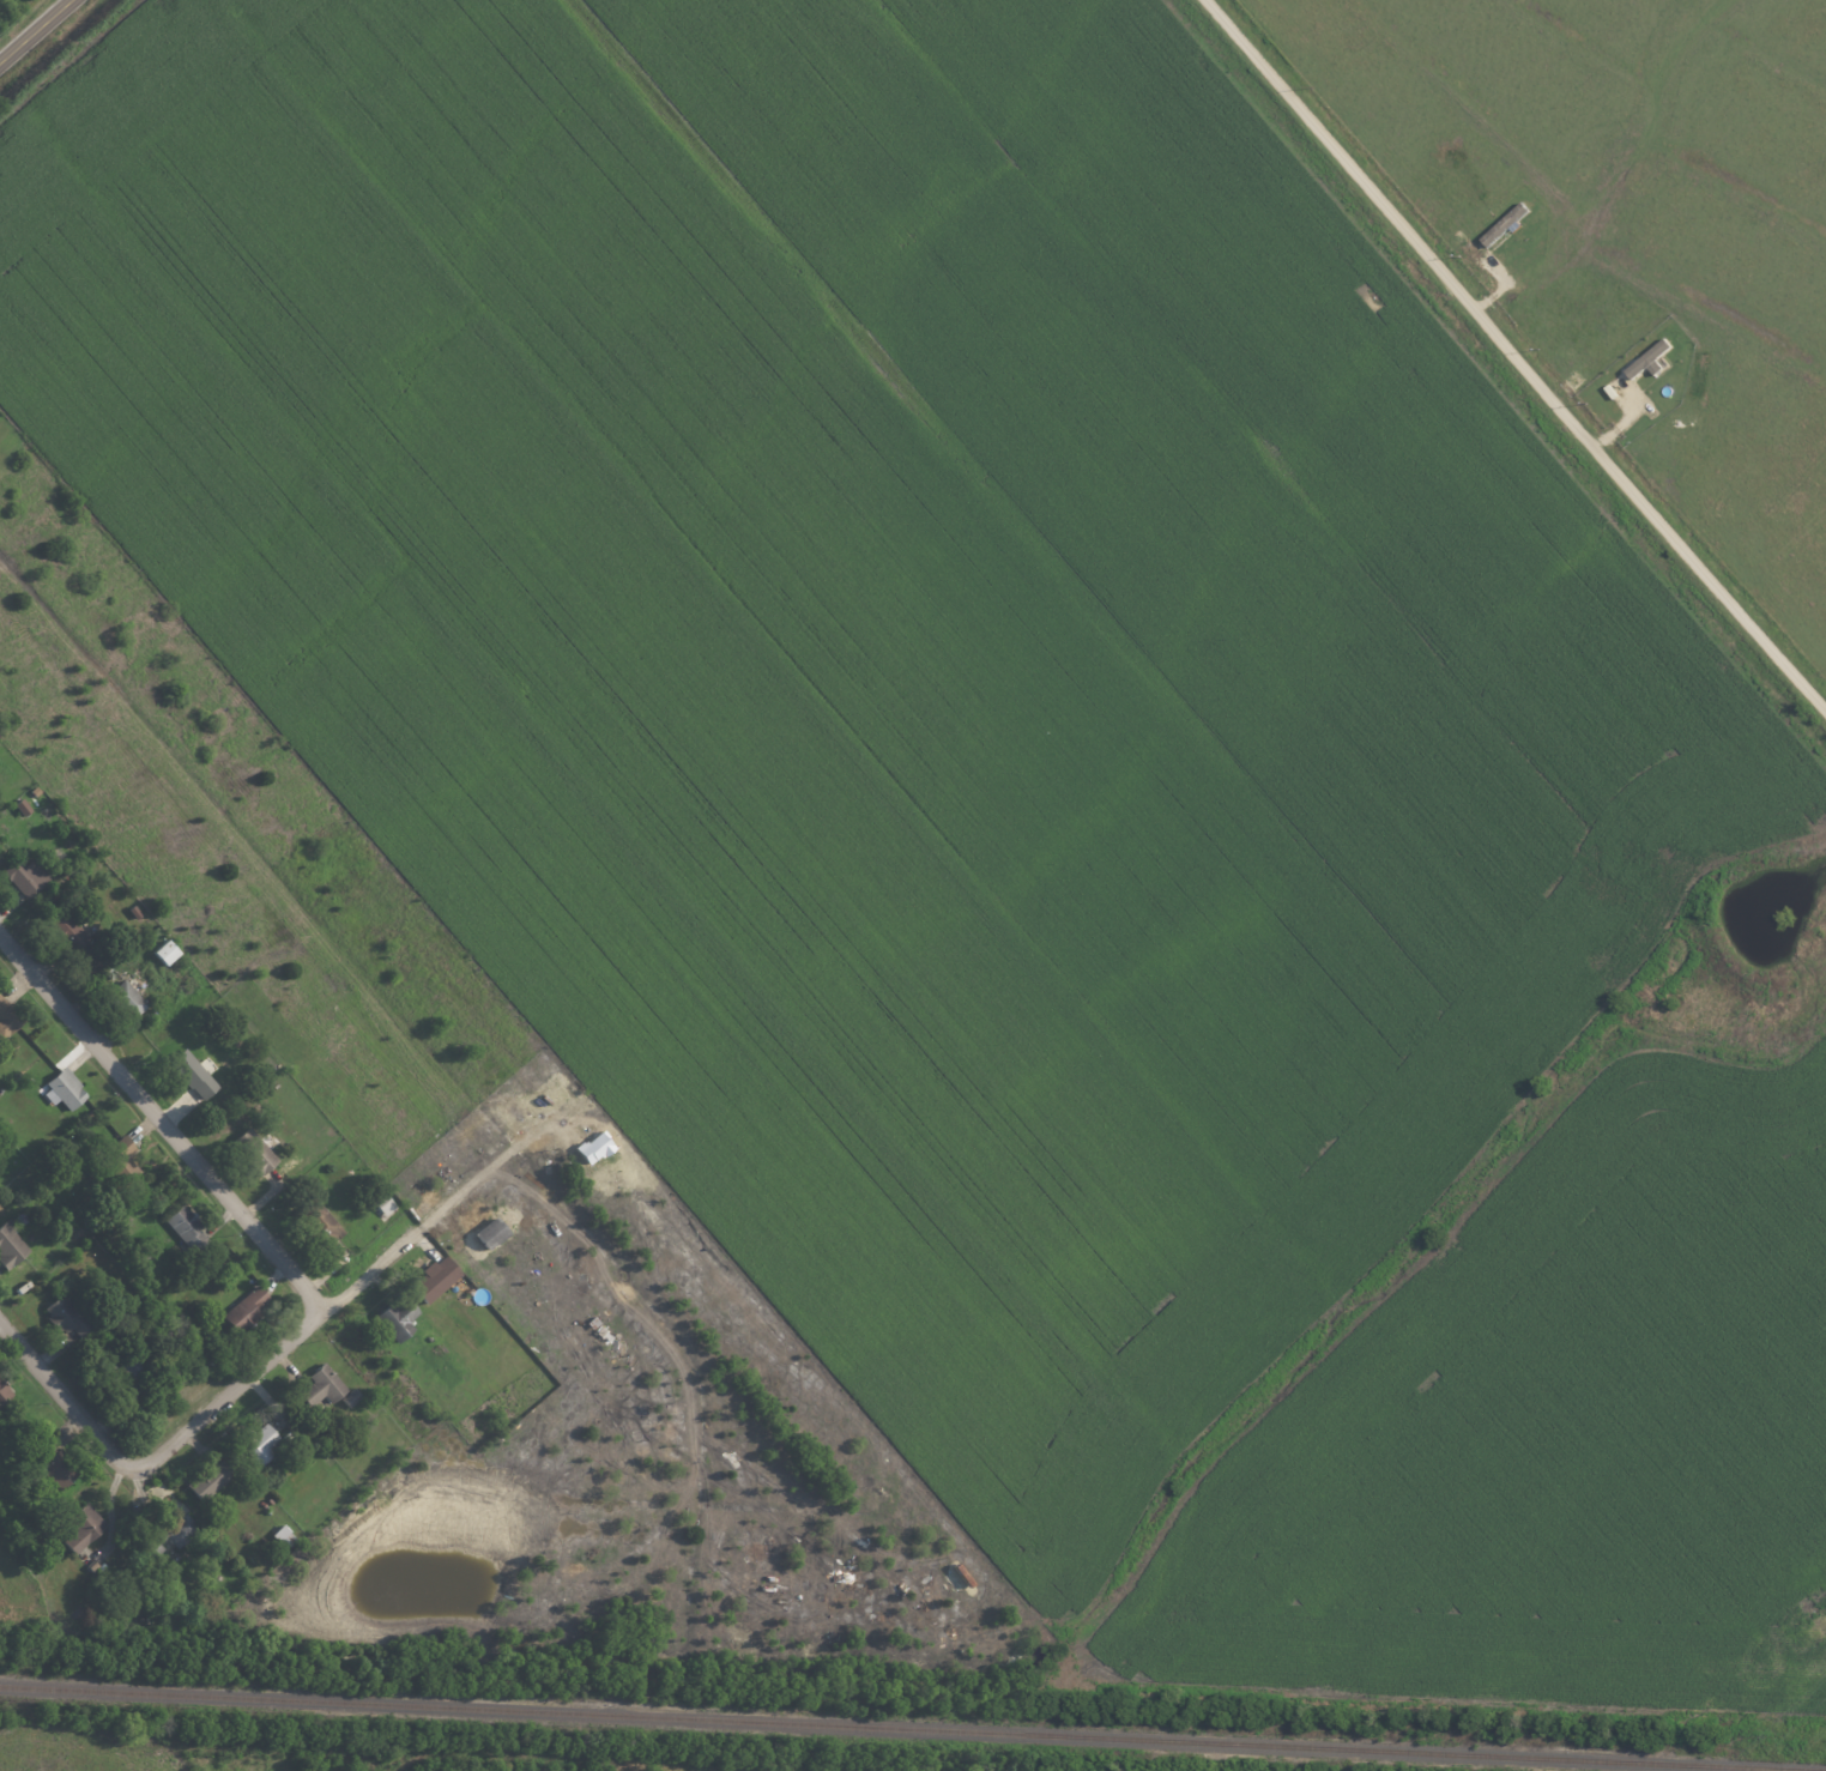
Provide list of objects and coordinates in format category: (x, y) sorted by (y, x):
road: (37, 32)
road: (1517, 353)
building: (1645, 361)
building: (17, 805)
building: (22, 875)
building: (62, 932)
building: (159, 950)
building: (122, 998)
building: (191, 1074)
building: (59, 1088)
road: (162, 1117)
building: (589, 1147)
building: (250, 1150)
building: (120, 1156)
building: (379, 1203)
building: (319, 1222)
road: (422, 1223)
building: (180, 1226)
building: (484, 1233)
building: (8, 1244)
building: (429, 1279)
building: (241, 1307)
building: (58, 1316)
building: (393, 1318)
building: (319, 1385)
building: (2, 1391)
road: (232, 1391)
road: (68, 1397)
building: (347, 1397)
building: (252, 1443)
building: (48, 1474)
building: (205, 1481)
building: (79, 1527)
building: (177, 1530)
railway: (908, 1729)

